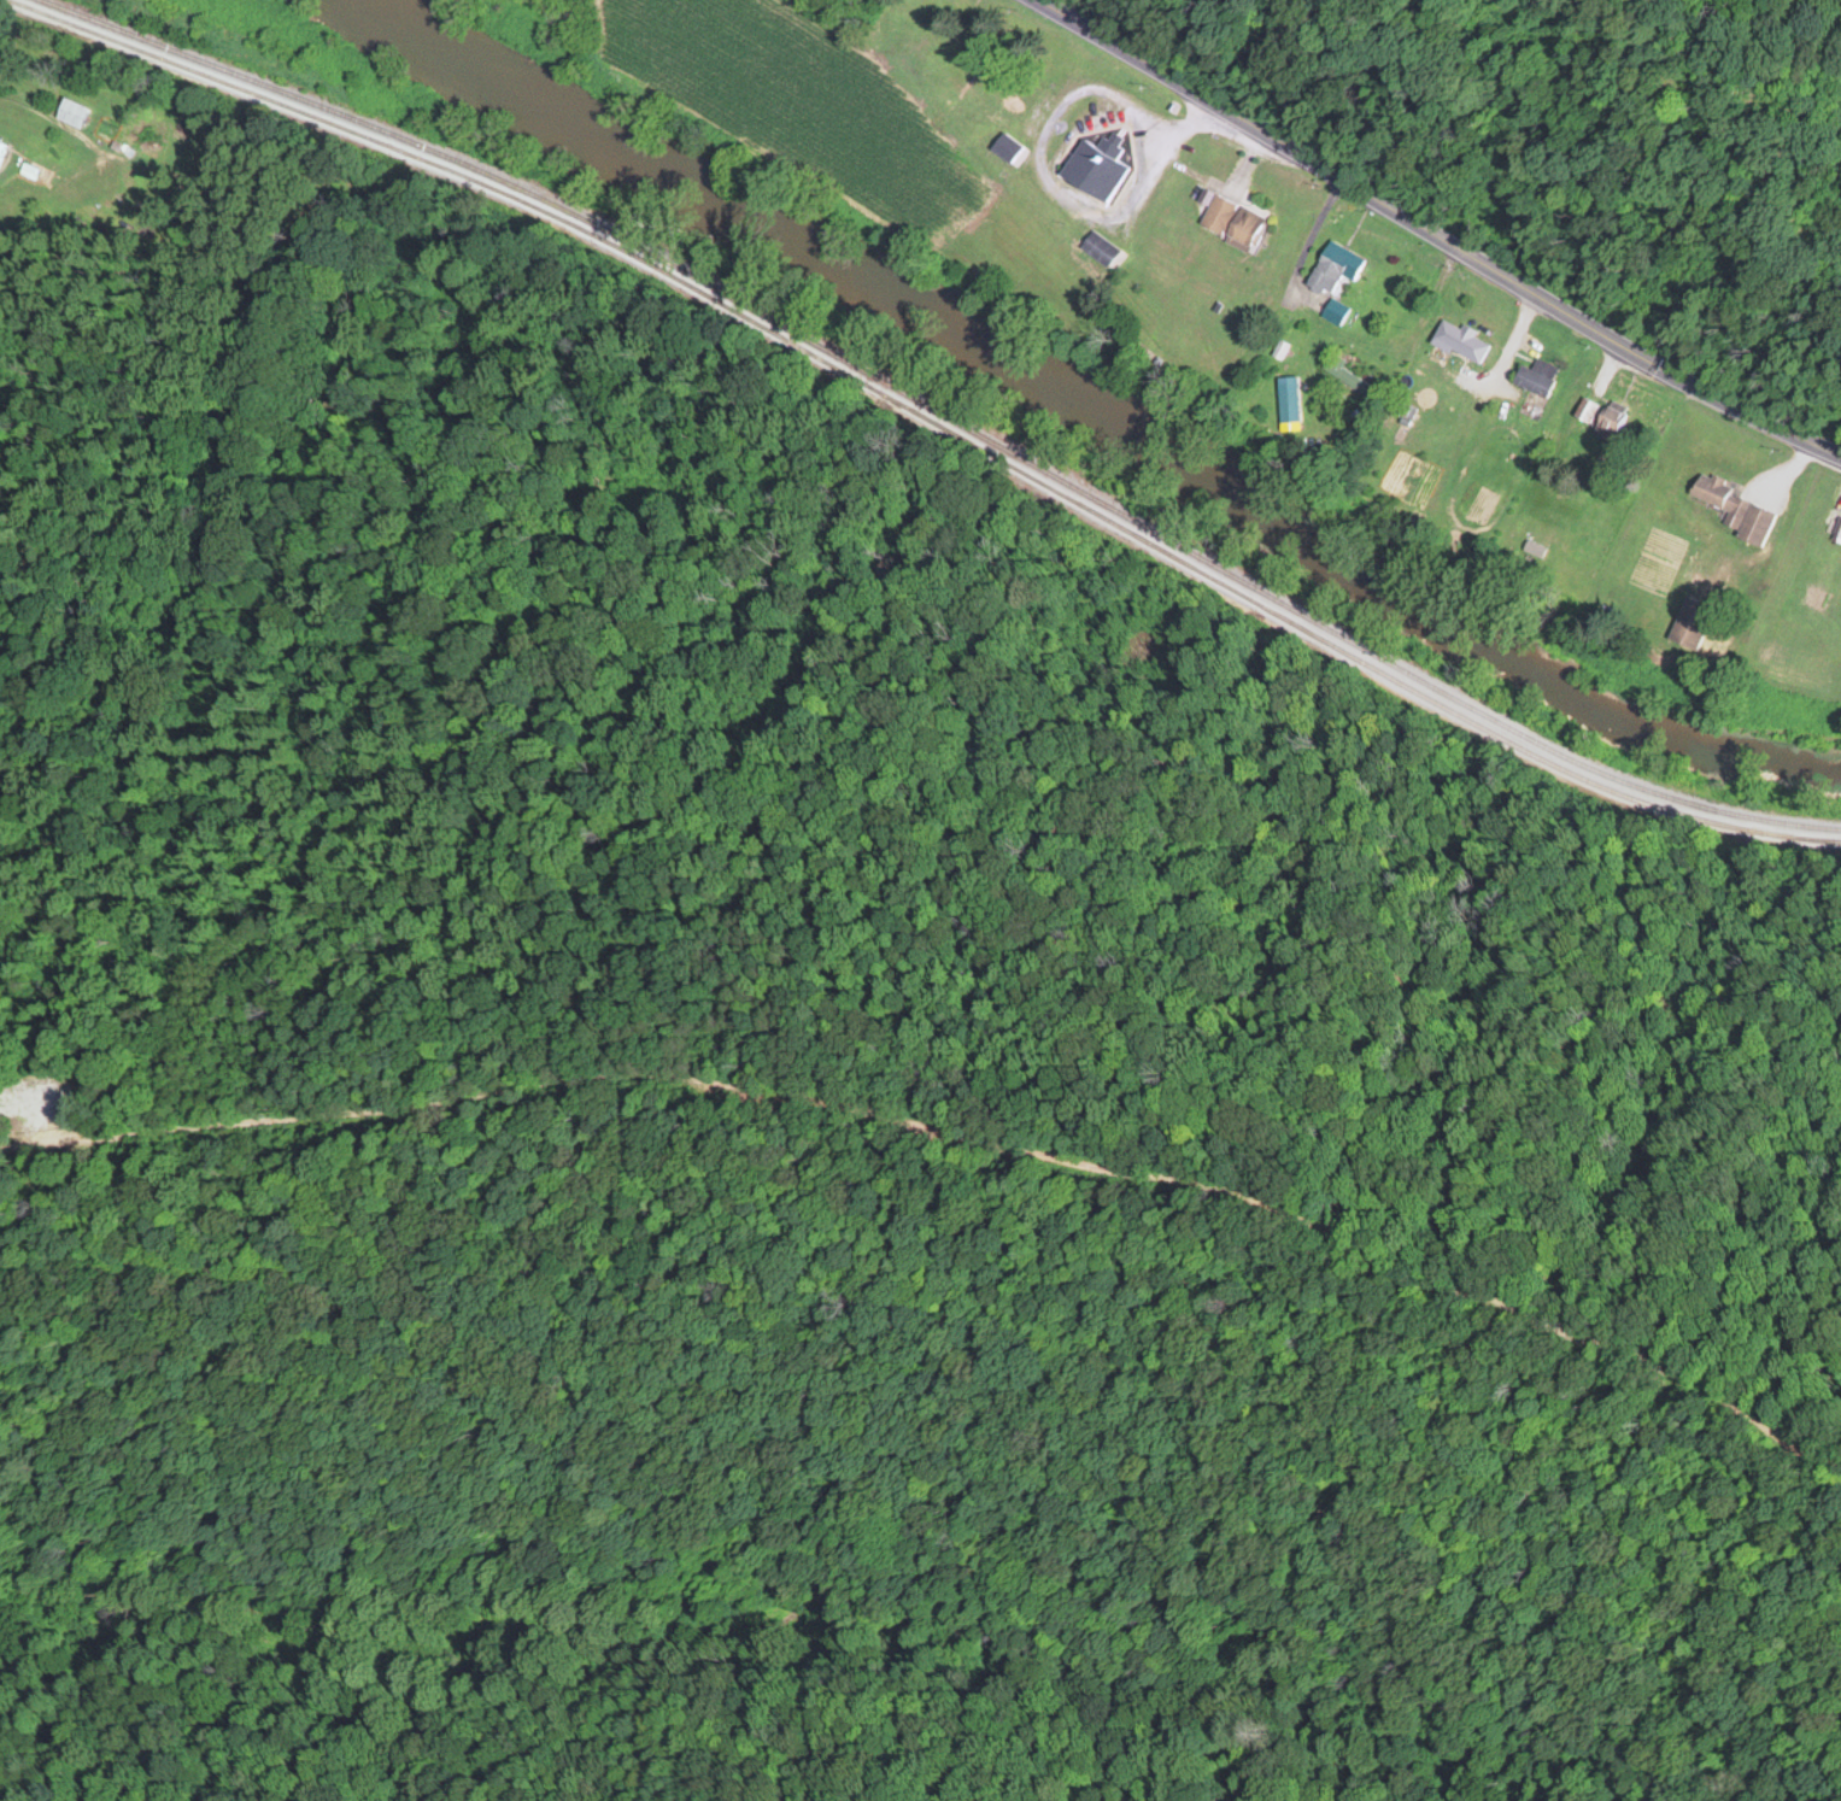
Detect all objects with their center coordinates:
building: (924, 31)
building: (996, 90)
building: (71, 111)
building: (105, 130)
building: (1, 147)
building: (1095, 166)
building: (1229, 218)
road: (1435, 234)
building: (1332, 268)
building: (1332, 309)
building: (1458, 339)
building: (1534, 375)
building: (1353, 379)
river: (1101, 415)
building: (1599, 415)
railway: (932, 420)
building: (1731, 506)
building: (1683, 620)
road: (950, 1228)
road: (1390, 1324)

